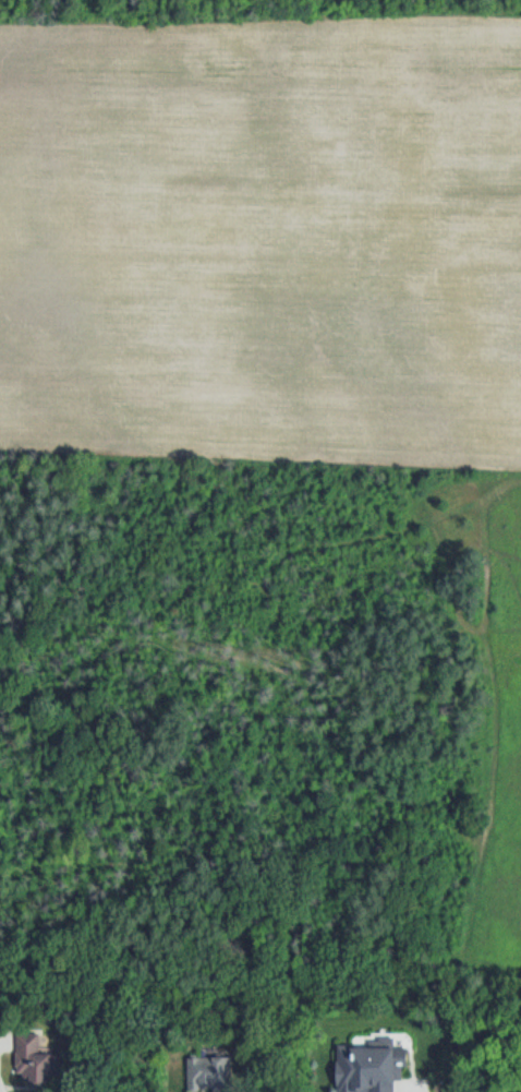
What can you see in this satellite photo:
building: (36, 1061)
building: (206, 1075)

